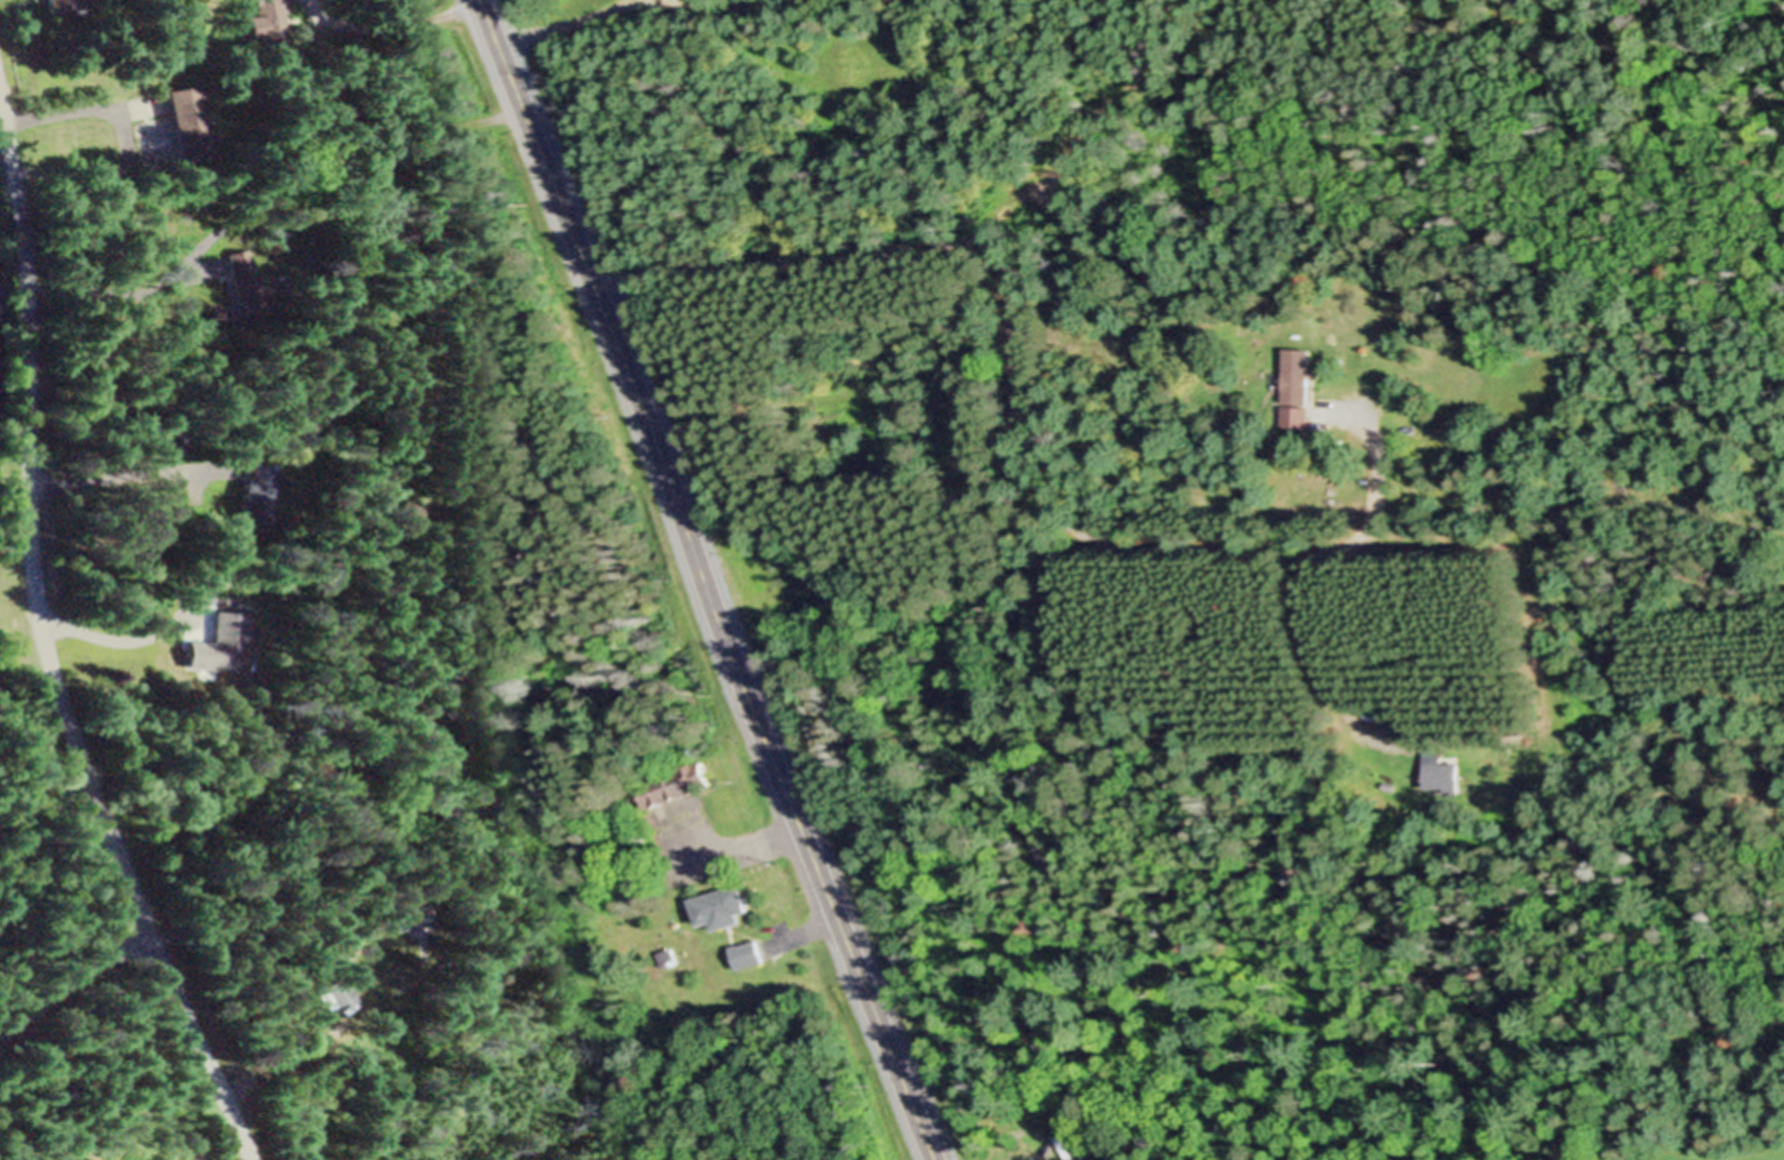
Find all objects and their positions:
road: (700, 6)
building: (267, 20)
road: (414, 20)
road: (565, 23)
road: (69, 105)
building: (188, 113)
building: (244, 274)
road: (109, 286)
building: (1299, 387)
road: (1017, 408)
road: (114, 476)
building: (262, 494)
road: (709, 579)
road: (115, 640)
road: (45, 643)
road: (1323, 643)
building: (1403, 722)
building: (1442, 767)
building: (684, 784)
road: (755, 846)
building: (724, 908)
building: (408, 912)
road: (813, 929)
building: (749, 954)
road: (73, 982)
park: (83, 982)
building: (340, 993)
road: (300, 1049)
building: (1069, 1134)

